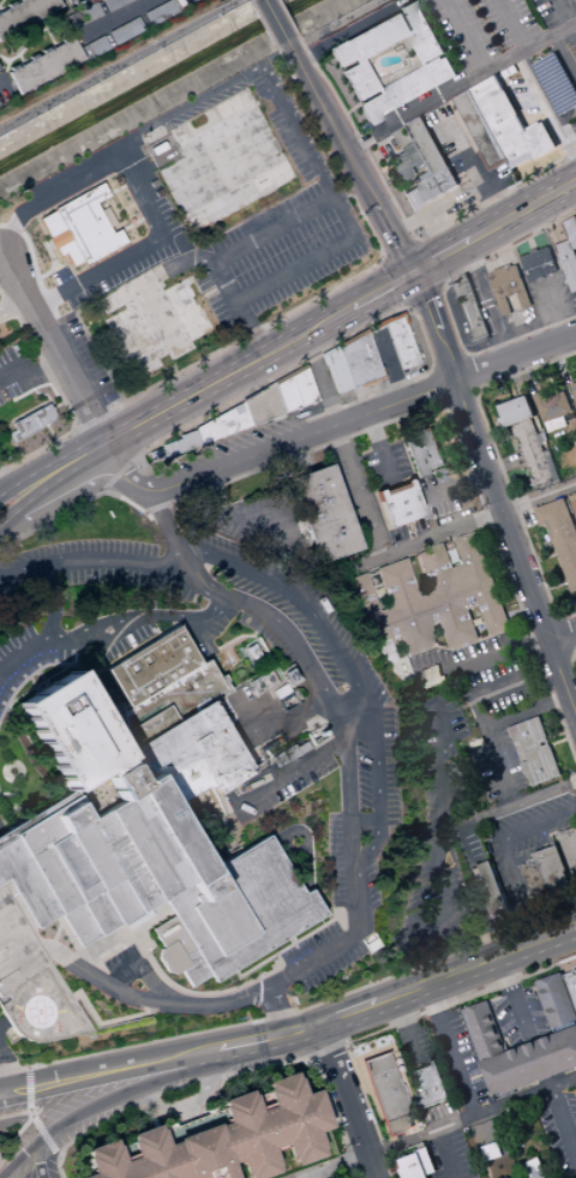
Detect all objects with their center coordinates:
building: (67, 0)
building: (74, 1)
building: (91, 1)
building: (113, 4)
building: (160, 12)
road: (566, 12)
building: (23, 13)
building: (83, 16)
road: (286, 18)
road: (113, 19)
road: (337, 20)
road: (274, 22)
road: (260, 24)
road: (516, 24)
building: (125, 31)
building: (421, 31)
road: (31, 36)
road: (463, 36)
road: (49, 37)
road: (298, 40)
building: (366, 41)
road: (294, 44)
building: (96, 46)
road: (565, 53)
road: (10, 59)
road: (118, 64)
building: (42, 65)
road: (1, 79)
building: (359, 79)
building: (556, 83)
road: (461, 86)
building: (407, 90)
parking lot: (547, 92)
road: (548, 103)
road: (349, 109)
building: (509, 122)
road: (570, 130)
building: (481, 131)
building: (427, 145)
road: (350, 159)
building: (216, 161)
building: (408, 162)
road: (474, 173)
road: (132, 175)
building: (448, 180)
road: (48, 193)
building: (422, 193)
road: (269, 198)
building: (88, 208)
road: (337, 209)
road: (524, 213)
road: (250, 215)
road: (287, 220)
road: (401, 221)
road: (4, 226)
road: (43, 231)
road: (413, 240)
road: (101, 241)
road: (80, 243)
parking lot: (286, 249)
road: (397, 250)
building: (569, 252)
road: (444, 258)
road: (380, 259)
building: (538, 259)
road: (425, 265)
road: (97, 270)
traffic signals: (414, 276)
road: (347, 280)
road: (396, 282)
building: (509, 287)
road: (389, 288)
road: (439, 289)
road: (422, 297)
road: (442, 303)
road: (490, 303)
road: (13, 305)
road: (358, 305)
road: (70, 307)
road: (406, 307)
road: (554, 307)
building: (469, 309)
road: (370, 312)
building: (151, 321)
road: (376, 327)
road: (434, 328)
building: (396, 339)
road: (330, 345)
road: (54, 347)
road: (464, 355)
building: (359, 359)
road: (389, 365)
road: (449, 365)
road: (431, 370)
building: (335, 371)
parking lot: (14, 372)
road: (28, 375)
road: (228, 375)
road: (468, 376)
road: (318, 379)
road: (440, 387)
building: (301, 388)
building: (574, 389)
road: (36, 394)
road: (475, 395)
building: (284, 396)
road: (59, 397)
road: (458, 397)
building: (552, 405)
building: (260, 406)
road: (445, 406)
building: (516, 413)
road: (20, 414)
road: (361, 414)
road: (392, 419)
road: (92, 420)
building: (30, 423)
building: (221, 425)
building: (554, 426)
road: (74, 427)
road: (49, 433)
road: (13, 446)
building: (173, 447)
road: (377, 449)
road: (89, 450)
road: (446, 452)
building: (424, 453)
road: (91, 456)
building: (535, 456)
road: (500, 464)
road: (506, 464)
road: (124, 468)
road: (118, 472)
road: (35, 476)
road: (455, 486)
road: (36, 491)
road: (71, 492)
road: (355, 492)
road: (540, 500)
building: (397, 504)
building: (572, 504)
building: (322, 515)
road: (235, 518)
road: (163, 520)
building: (562, 536)
road: (516, 544)
road: (416, 545)
road: (114, 558)
road: (546, 558)
road: (559, 562)
road: (20, 570)
road: (197, 578)
road: (557, 587)
building: (431, 598)
road: (52, 602)
road: (139, 618)
road: (562, 618)
road: (545, 626)
road: (564, 636)
road: (565, 636)
road: (23, 648)
building: (252, 652)
road: (571, 653)
road: (554, 657)
road: (574, 659)
road: (485, 662)
building: (151, 665)
road: (346, 671)
building: (260, 681)
building: (278, 690)
building: (506, 698)
building: (239, 700)
building: (168, 701)
road: (349, 708)
road: (334, 711)
road: (528, 711)
building: (149, 724)
building: (64, 730)
road: (559, 741)
building: (301, 747)
road: (492, 748)
building: (535, 749)
building: (288, 753)
building: (186, 757)
building: (269, 764)
road: (17, 770)
road: (287, 776)
building: (113, 782)
road: (11, 797)
road: (443, 800)
road: (497, 812)
building: (34, 814)
road: (360, 817)
building: (168, 831)
building: (139, 845)
building: (569, 845)
road: (508, 855)
building: (103, 859)
building: (66, 867)
building: (547, 872)
building: (44, 874)
building: (23, 885)
building: (202, 887)
building: (488, 891)
building: (114, 902)
building: (246, 907)
building: (95, 914)
parking lot: (11, 917)
building: (139, 919)
building: (218, 920)
road: (17, 923)
building: (76, 925)
building: (0, 927)
building: (100, 944)
road: (337, 946)
building: (121, 950)
building: (178, 950)
road: (14, 955)
building: (169, 958)
building: (104, 964)
building: (131, 969)
road: (448, 977)
building: (571, 983)
road: (60, 988)
road: (515, 1000)
road: (145, 1001)
building: (557, 1003)
helipad: (44, 1005)
road: (276, 1011)
road: (295, 1012)
road: (101, 1022)
road: (332, 1022)
road: (392, 1024)
road: (301, 1030)
road: (401, 1032)
building: (485, 1032)
road: (305, 1034)
road: (274, 1039)
road: (263, 1042)
road: (342, 1042)
road: (326, 1047)
road: (451, 1050)
road: (238, 1051)
road: (311, 1059)
building: (532, 1064)
road: (131, 1065)
road: (5, 1072)
road: (223, 1074)
building: (430, 1084)
road: (25, 1089)
road: (125, 1093)
building: (385, 1093)
road: (212, 1094)
road: (366, 1094)
road: (217, 1096)
road: (346, 1101)
road: (184, 1106)
road: (151, 1116)
road: (151, 1120)
road: (564, 1120)
road: (23, 1124)
road: (440, 1128)
road: (490, 1134)
road: (43, 1135)
building: (223, 1140)
building: (491, 1152)
road: (446, 1153)
road: (22, 1155)
road: (36, 1155)
building: (427, 1161)
building: (412, 1167)
building: (534, 1168)
road: (397, 1172)

